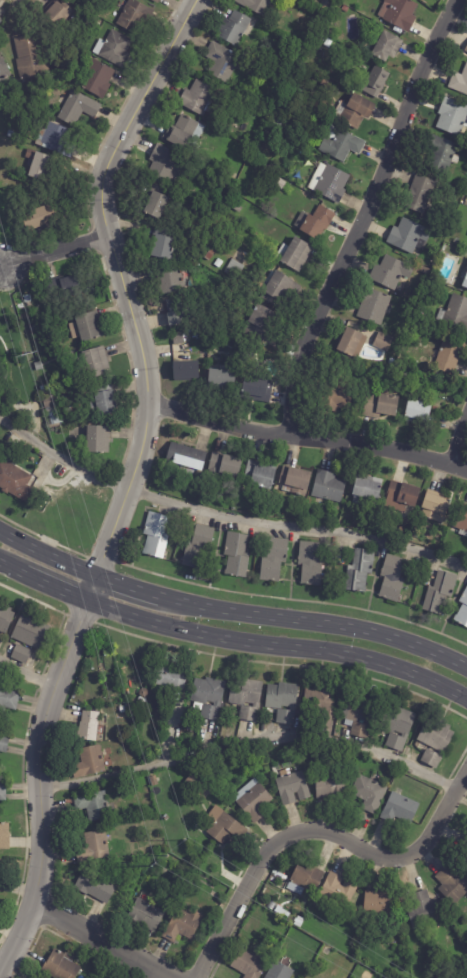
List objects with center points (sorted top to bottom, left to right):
building: (156, 1)
building: (256, 5)
building: (345, 8)
building: (1, 12)
building: (58, 13)
building: (399, 14)
building: (135, 16)
building: (0, 21)
building: (236, 28)
building: (328, 43)
building: (387, 46)
building: (115, 48)
building: (466, 50)
building: (31, 57)
building: (222, 61)
building: (284, 70)
building: (4, 71)
building: (97, 78)
building: (376, 81)
building: (460, 82)
building: (198, 97)
building: (78, 108)
building: (353, 111)
building: (19, 115)
building: (452, 116)
building: (275, 123)
building: (183, 132)
building: (10, 133)
building: (55, 139)
building: (341, 143)
building: (442, 153)
building: (36, 163)
building: (164, 163)
building: (329, 182)
building: (6, 183)
building: (421, 190)
building: (157, 205)
building: (237, 208)
road: (360, 213)
building: (39, 218)
building: (315, 222)
building: (410, 236)
building: (167, 247)
road: (60, 254)
building: (212, 254)
building: (295, 254)
building: (219, 264)
building: (235, 270)
building: (391, 273)
building: (425, 273)
building: (464, 277)
building: (169, 280)
road: (122, 282)
building: (433, 284)
building: (280, 287)
building: (64, 289)
building: (27, 299)
building: (374, 306)
building: (175, 312)
building: (455, 313)
building: (262, 317)
building: (220, 325)
building: (89, 327)
building: (33, 328)
building: (178, 339)
building: (384, 342)
building: (353, 344)
power tower: (26, 352)
building: (448, 356)
building: (391, 362)
building: (96, 363)
building: (39, 367)
building: (186, 371)
building: (223, 380)
building: (44, 389)
building: (259, 390)
building: (3, 393)
building: (65, 398)
building: (337, 399)
building: (106, 401)
building: (49, 402)
building: (381, 405)
building: (50, 412)
building: (67, 412)
building: (419, 413)
road: (308, 438)
road: (458, 439)
building: (98, 441)
building: (186, 459)
building: (225, 465)
building: (260, 475)
building: (295, 482)
building: (17, 484)
building: (329, 487)
building: (368, 493)
building: (402, 497)
building: (45, 499)
building: (435, 509)
road: (225, 516)
building: (462, 521)
building: (156, 536)
building: (198, 548)
road: (47, 552)
building: (237, 555)
building: (274, 561)
building: (310, 564)
road: (10, 571)
building: (360, 571)
building: (392, 579)
road: (126, 585)
road: (90, 588)
road: (54, 589)
building: (440, 593)
building: (463, 612)
building: (5, 617)
road: (315, 622)
building: (30, 631)
road: (278, 644)
building: (21, 653)
road: (28, 673)
building: (171, 677)
building: (144, 692)
building: (7, 697)
building: (208, 697)
building: (247, 697)
building: (283, 701)
building: (320, 705)
building: (122, 709)
building: (360, 714)
building: (89, 725)
building: (397, 726)
building: (435, 741)
road: (252, 742)
building: (4, 743)
building: (265, 757)
building: (89, 761)
building: (213, 777)
building: (154, 781)
building: (330, 785)
building: (292, 786)
road: (42, 788)
building: (3, 791)
building: (369, 793)
building: (253, 800)
building: (95, 805)
building: (400, 808)
building: (166, 817)
building: (224, 826)
road: (316, 828)
building: (4, 836)
building: (94, 846)
building: (464, 846)
power tower: (168, 854)
building: (466, 858)
building: (1, 864)
building: (305, 880)
building: (1, 883)
building: (453, 883)
building: (95, 886)
building: (339, 890)
building: (380, 904)
building: (201, 907)
building: (279, 909)
building: (423, 909)
building: (147, 915)
building: (181, 927)
road: (105, 937)
building: (249, 964)
building: (60, 965)
building: (361, 970)
building: (279, 971)

